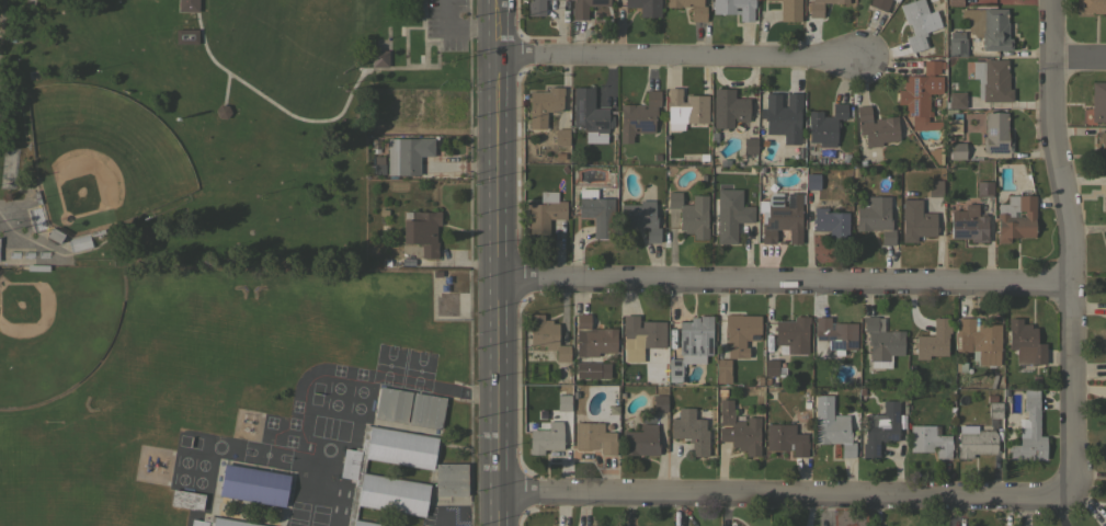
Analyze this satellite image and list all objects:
building: (954, 2)
building: (187, 4)
road: (227, 4)
building: (879, 4)
building: (1092, 5)
building: (536, 7)
building: (585, 7)
building: (645, 7)
building: (820, 7)
building: (789, 10)
building: (731, 11)
building: (697, 13)
road: (422, 20)
building: (919, 22)
parking lot: (446, 23)
road: (266, 26)
building: (988, 26)
building: (956, 44)
road: (404, 47)
road: (387, 56)
road: (680, 57)
building: (379, 58)
road: (1080, 61)
road: (436, 65)
building: (991, 79)
rooftop solar panel: (913, 87)
building: (920, 89)
road: (265, 100)
building: (385, 100)
building: (955, 100)
building: (1097, 101)
building: (199, 103)
building: (543, 105)
rooftop solar panel: (914, 105)
building: (729, 107)
building: (419, 108)
building: (685, 108)
building: (220, 111)
rooftop solar panel: (581, 112)
building: (589, 112)
building: (638, 116)
building: (783, 116)
park: (202, 124)
rooftop solar panel: (601, 124)
building: (824, 125)
building: (951, 125)
rooftop solar panel: (641, 127)
building: (875, 127)
road: (433, 128)
rooftop solar panel: (990, 131)
building: (995, 133)
building: (561, 136)
building: (749, 145)
rooftop solar panel: (999, 149)
building: (1102, 149)
building: (957, 150)
building: (407, 155)
park: (100, 157)
building: (378, 164)
building: (812, 180)
building: (934, 187)
building: (983, 188)
rooftop solar panel: (793, 201)
building: (596, 211)
building: (383, 213)
building: (544, 214)
building: (689, 214)
building: (407, 215)
building: (780, 216)
building: (875, 217)
building: (1015, 217)
building: (35, 218)
building: (640, 218)
building: (731, 219)
building: (915, 220)
building: (831, 222)
rooftop solar panel: (964, 224)
building: (968, 224)
building: (422, 231)
building: (95, 232)
building: (55, 235)
building: (142, 235)
rooftop solar panel: (961, 235)
building: (78, 242)
road: (1071, 249)
road: (455, 261)
road: (469, 262)
road: (494, 262)
building: (386, 263)
building: (36, 267)
building: (435, 274)
road: (785, 284)
building: (1105, 306)
building: (740, 332)
building: (791, 334)
building: (835, 334)
building: (546, 336)
building: (594, 336)
building: (640, 336)
rooftop solar panel: (755, 336)
rooftop solar panel: (830, 336)
rooftop solar panel: (820, 338)
building: (933, 340)
building: (978, 340)
building: (881, 343)
building: (691, 344)
rooftop solar panel: (835, 344)
building: (1024, 344)
rooftop solar panel: (851, 346)
building: (1105, 366)
building: (771, 367)
building: (591, 369)
building: (722, 371)
building: (562, 402)
building: (659, 403)
building: (392, 404)
building: (994, 405)
building: (426, 411)
rooftop solar panel: (897, 416)
building: (880, 427)
building: (739, 430)
building: (691, 431)
building: (1029, 431)
building: (834, 433)
rooftop solar panel: (896, 435)
building: (593, 437)
building: (545, 438)
building: (785, 438)
building: (928, 439)
building: (640, 441)
building: (974, 442)
rooftop solar panel: (876, 447)
building: (356, 474)
building: (451, 479)
building: (253, 484)
road: (778, 493)
building: (186, 500)
road: (451, 518)
building: (221, 522)

